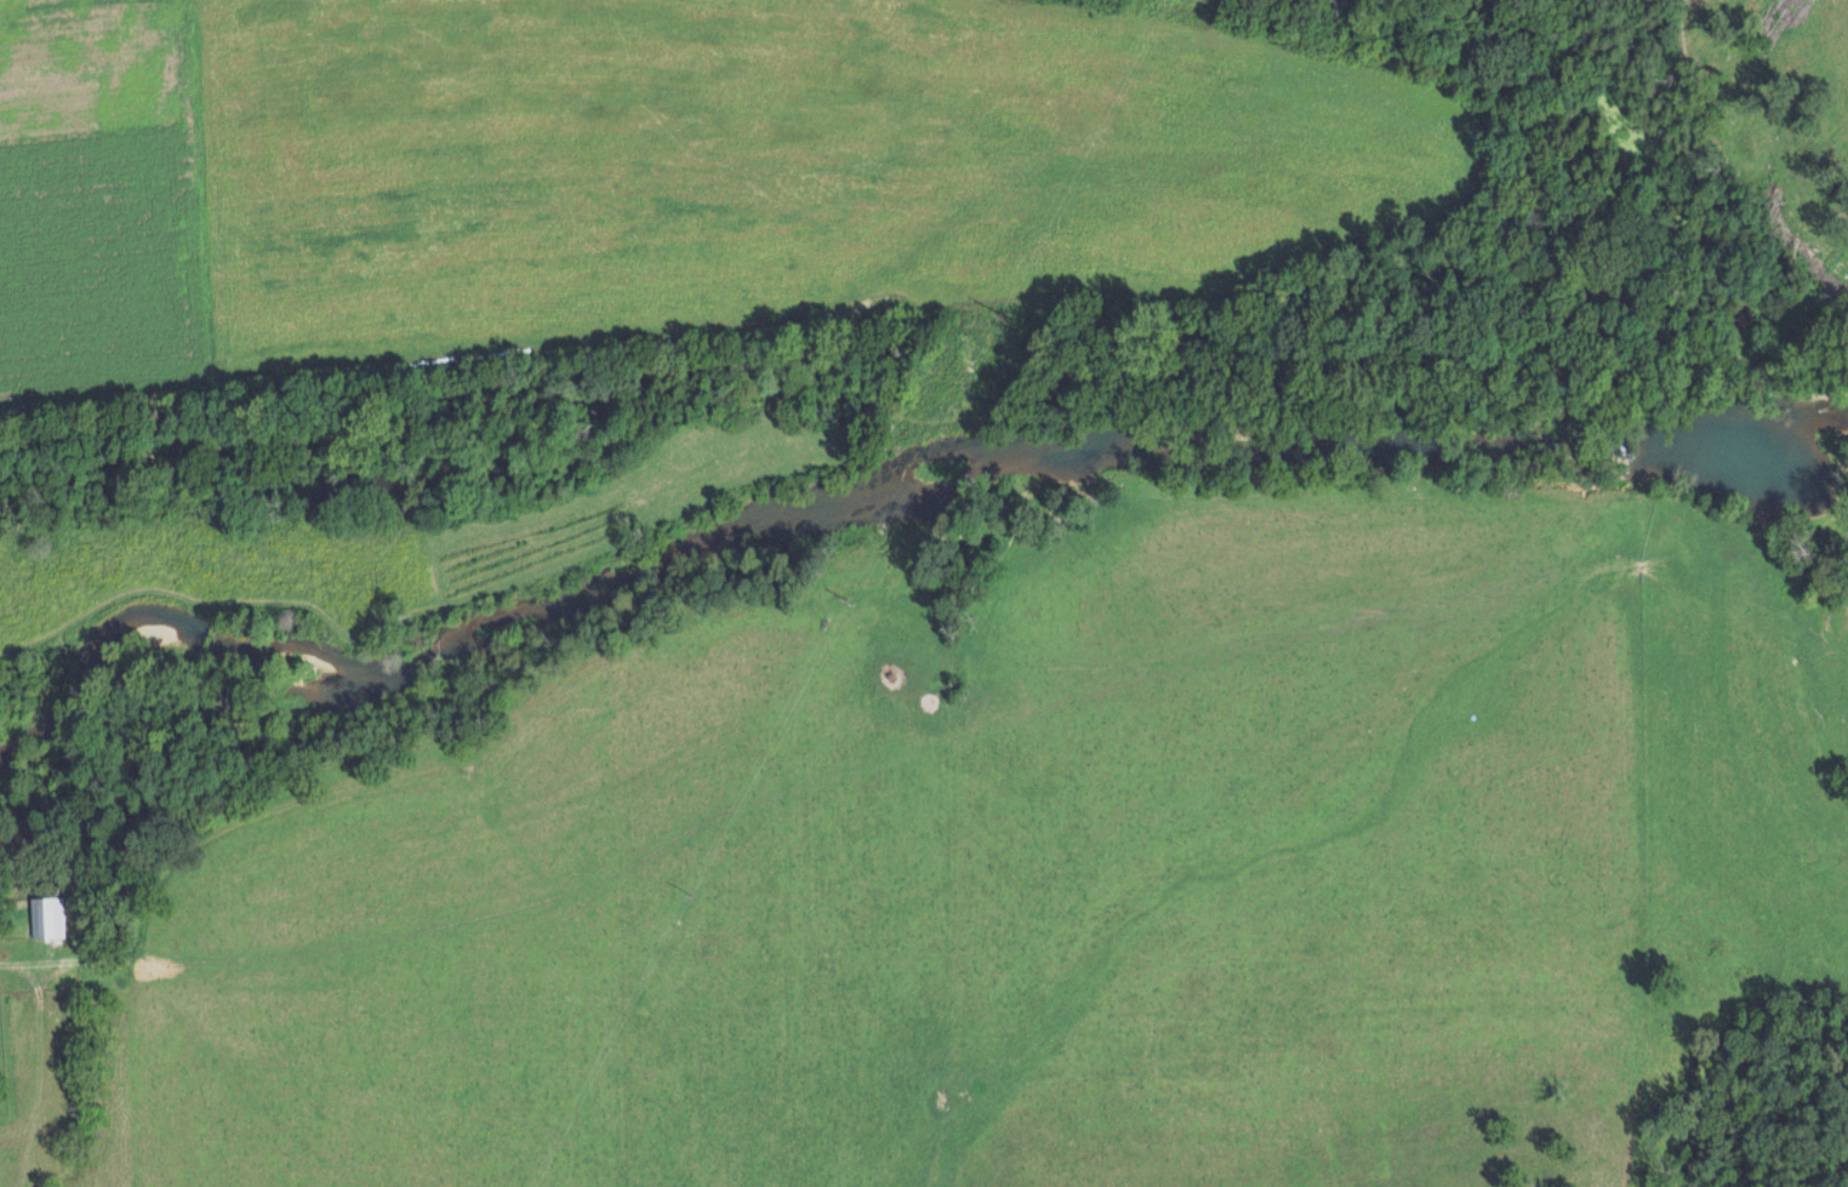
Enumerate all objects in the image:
building: (44, 918)
road: (34, 959)

